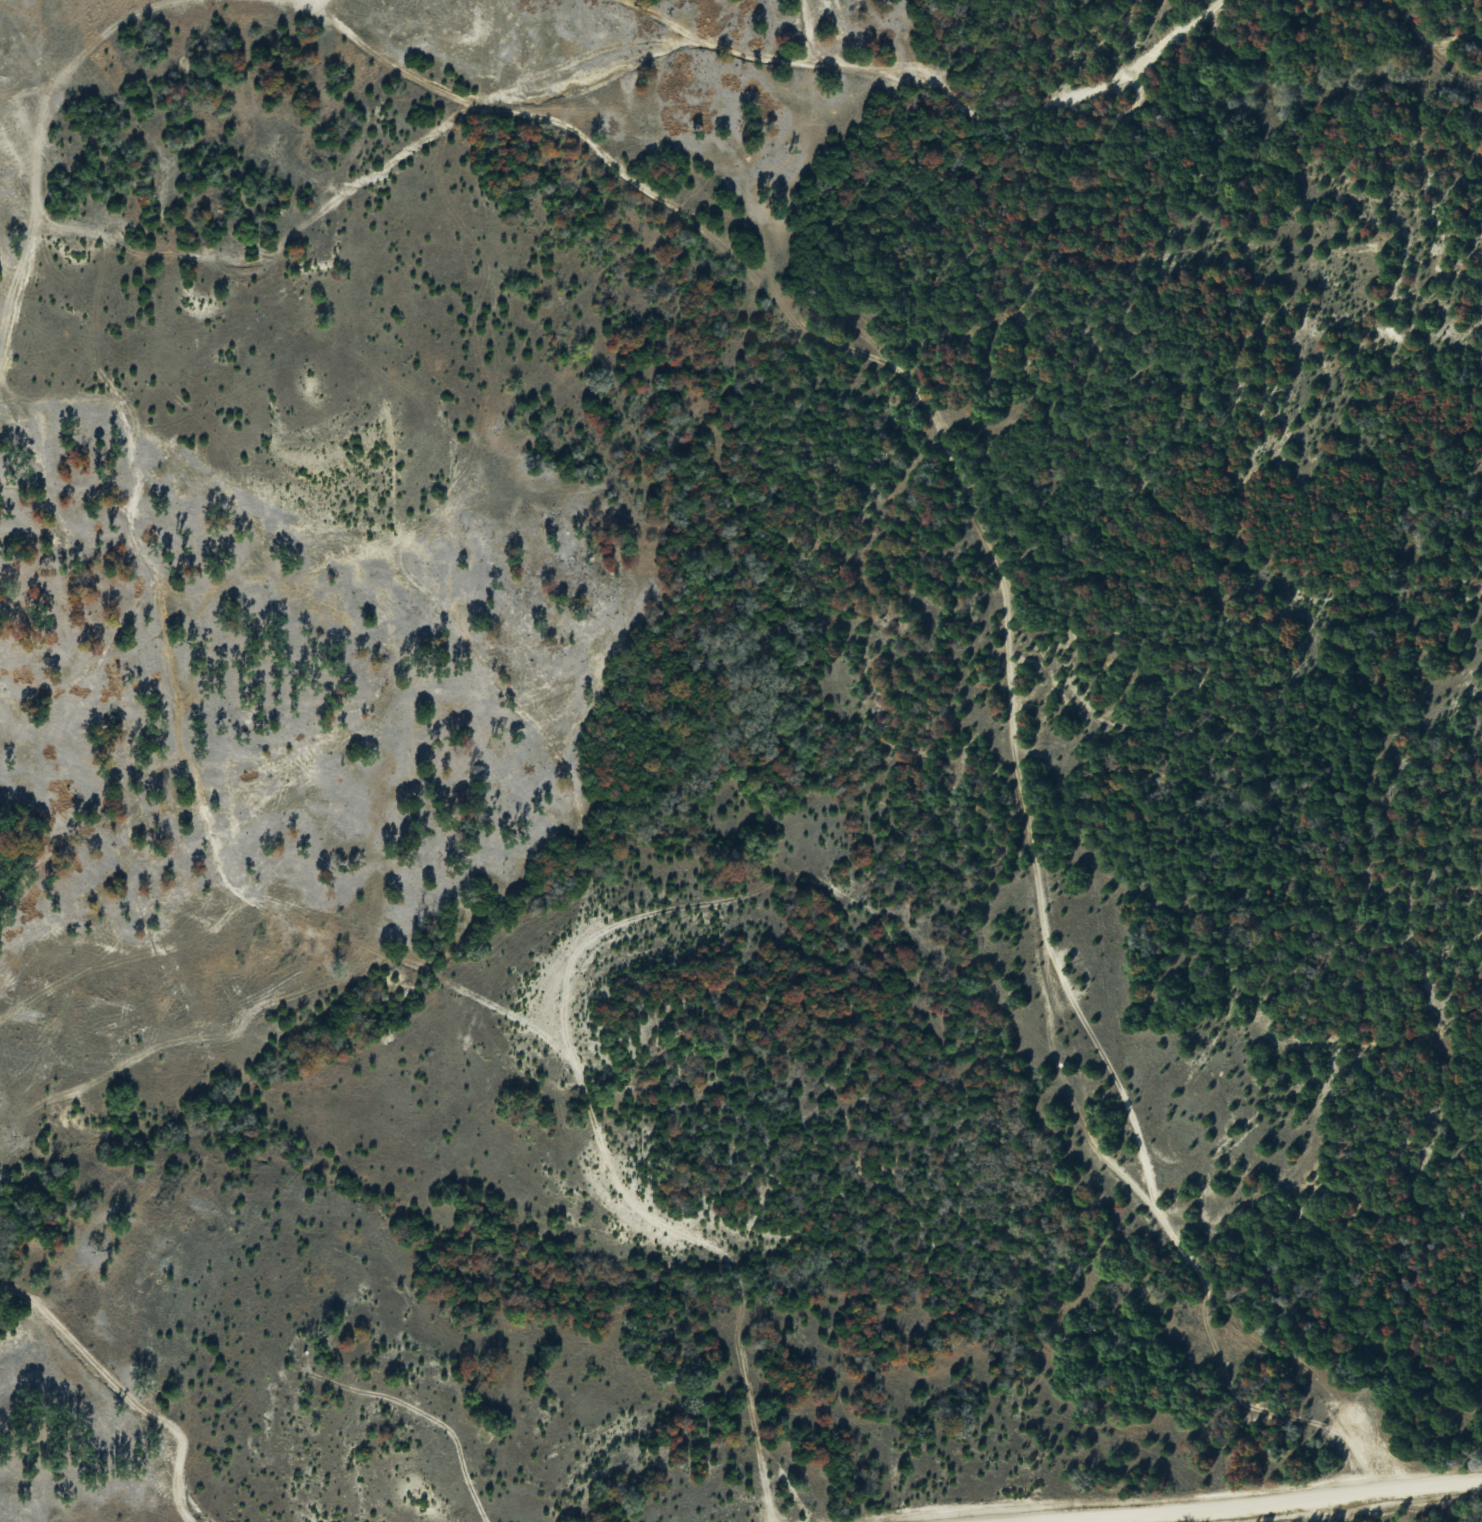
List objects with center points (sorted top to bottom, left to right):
road: (1256, 1500)

